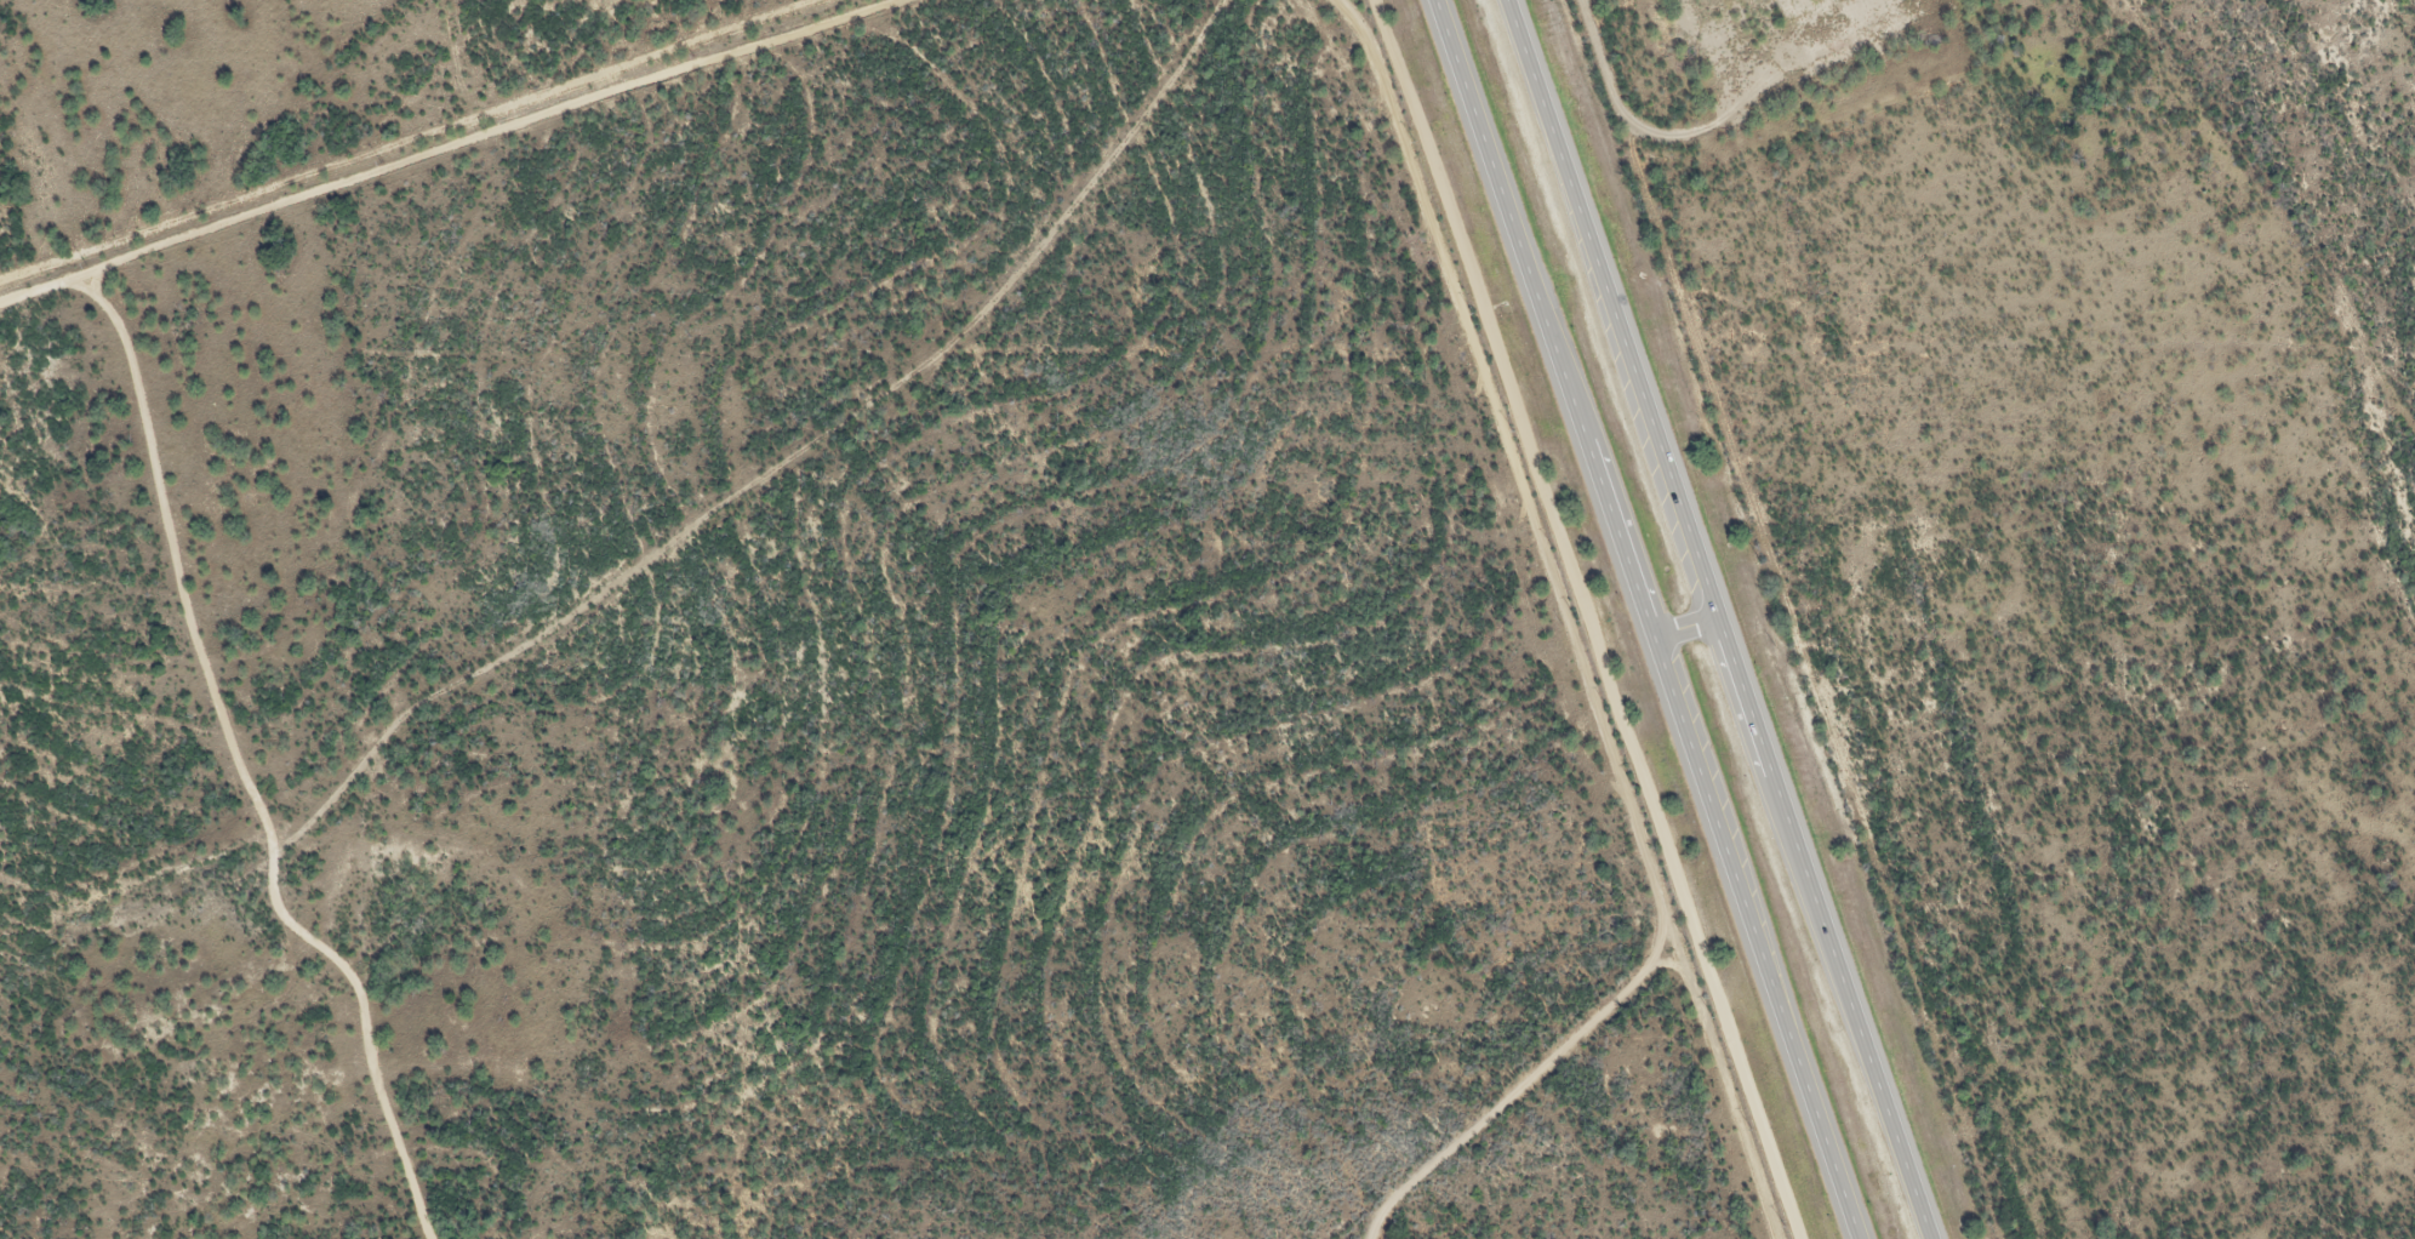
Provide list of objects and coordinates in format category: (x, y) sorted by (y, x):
road: (1633, 619)
road: (1725, 619)
road: (212, 735)

